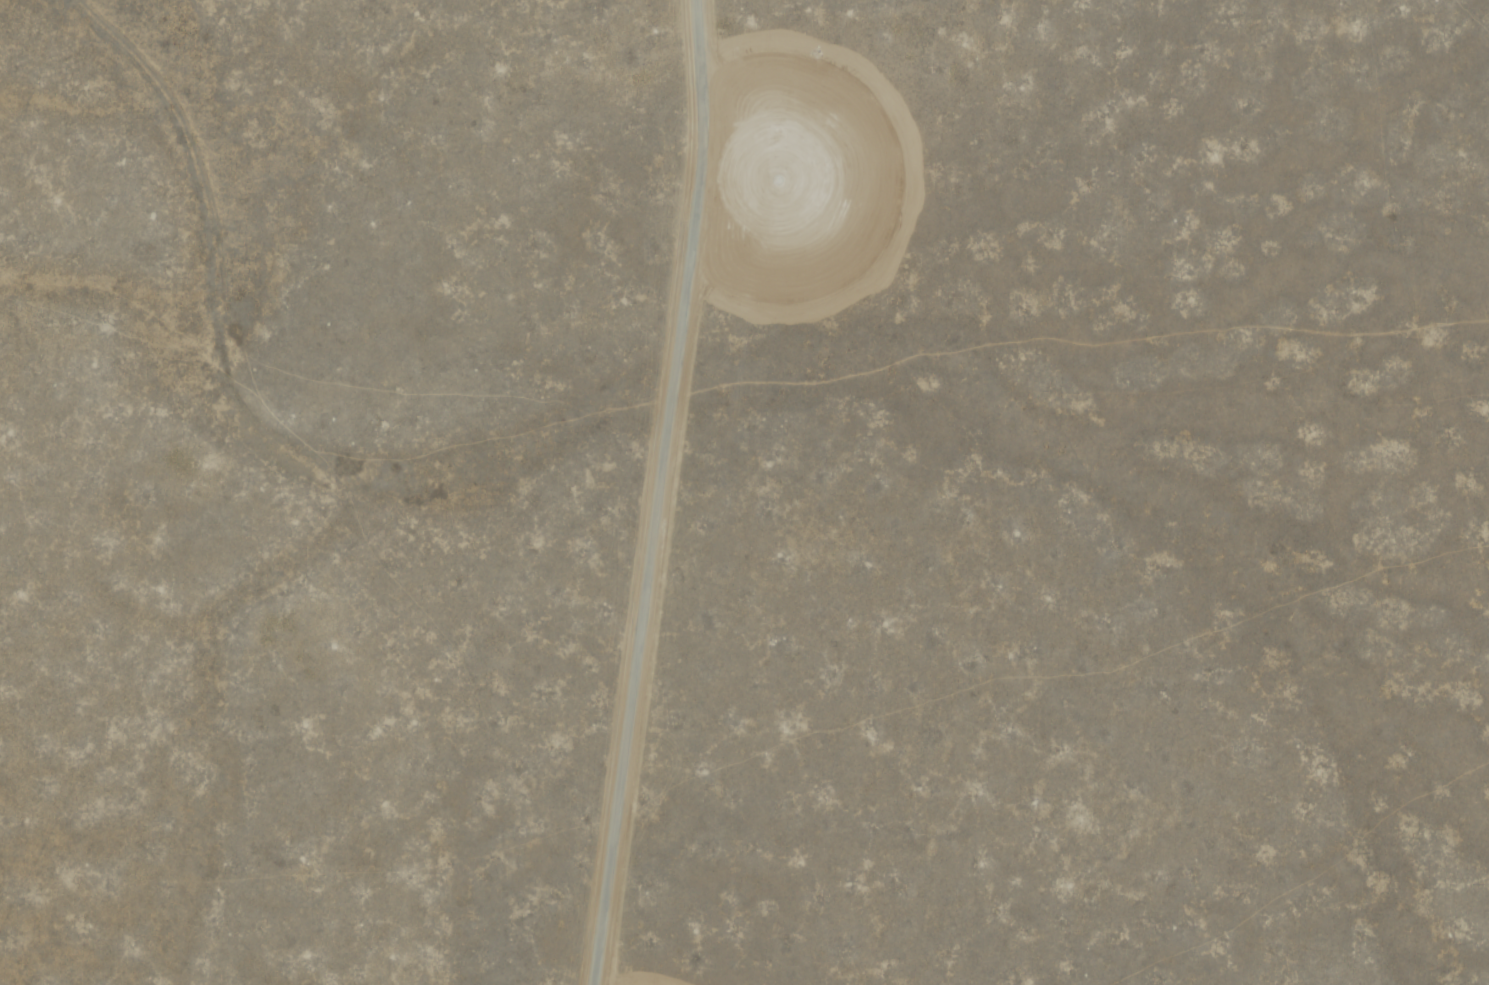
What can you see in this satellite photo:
wind turbine: (764, 181)

